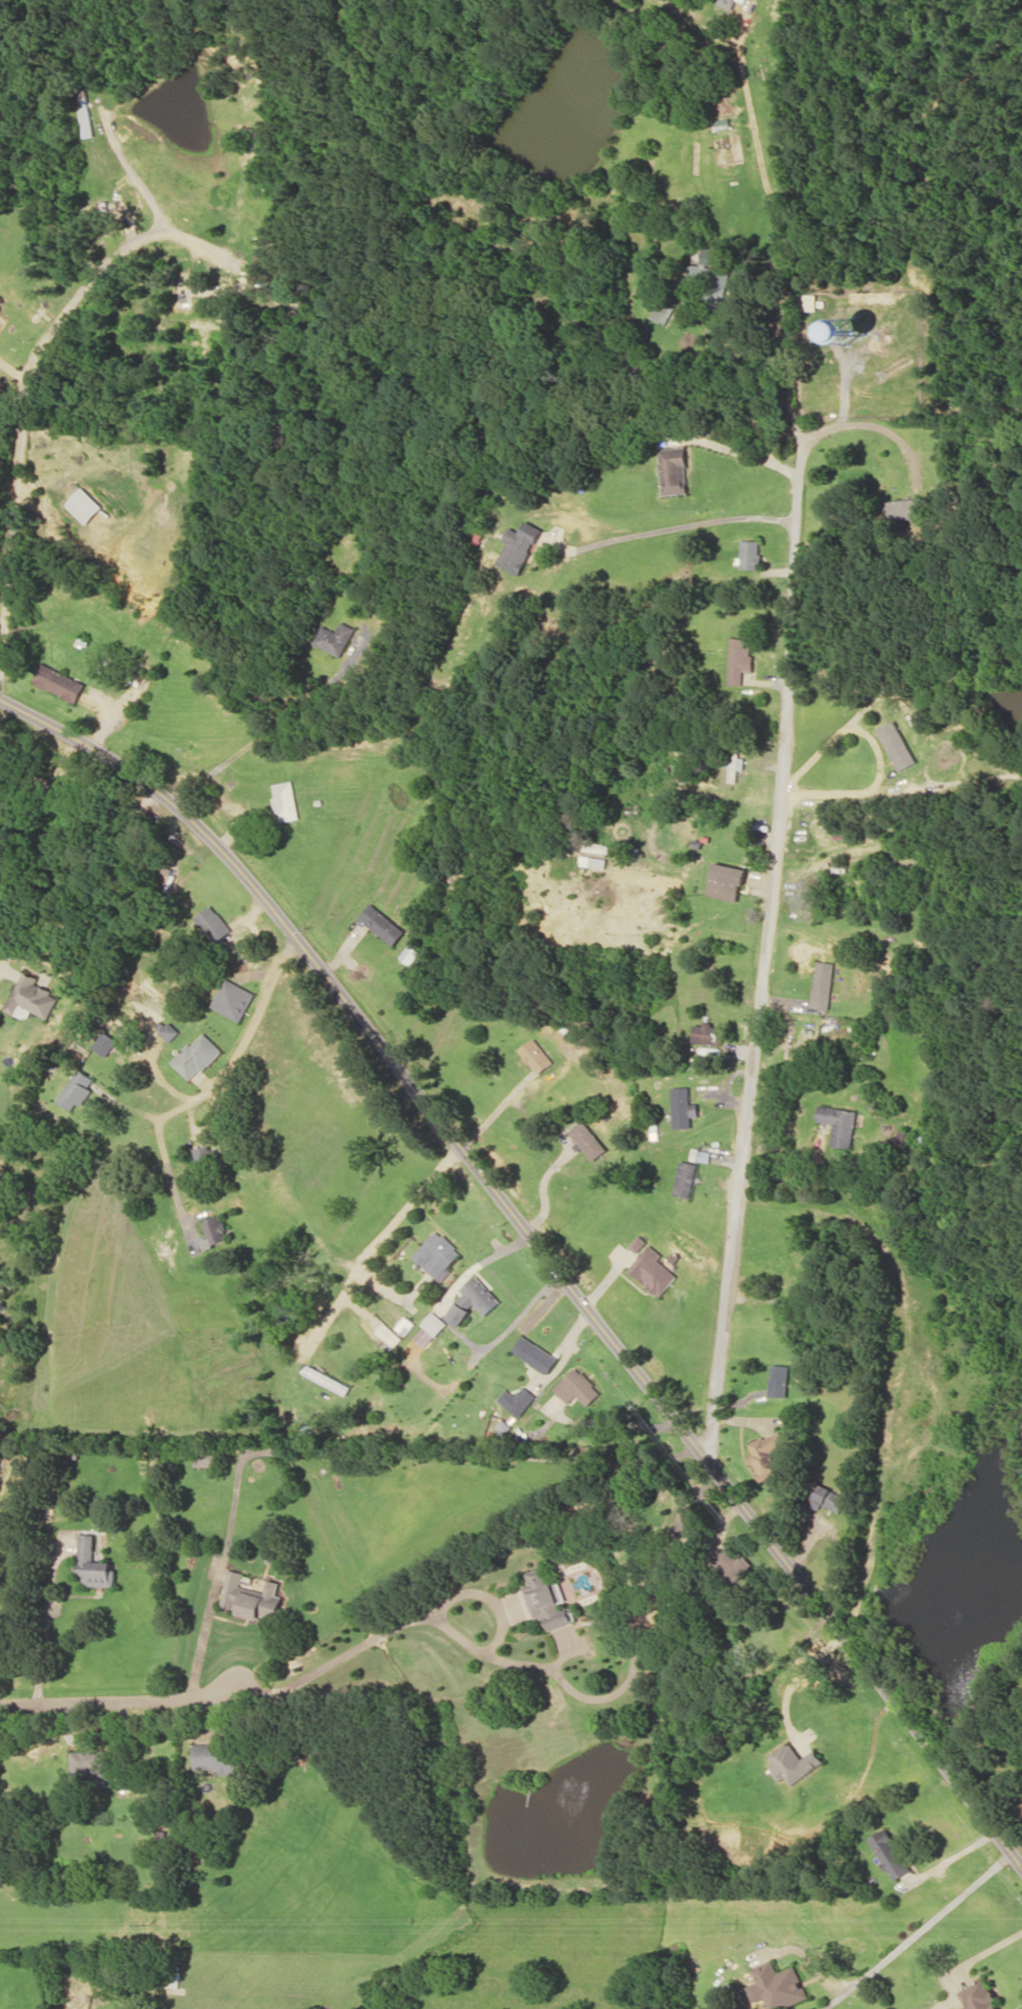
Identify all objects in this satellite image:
building: (743, 0)
building: (727, 3)
building: (87, 115)
building: (712, 279)
building: (1, 299)
building: (808, 301)
road: (25, 405)
building: (674, 470)
building: (83, 505)
building: (908, 507)
building: (519, 546)
building: (749, 553)
building: (333, 638)
building: (738, 657)
building: (59, 682)
building: (898, 745)
building: (733, 761)
building: (285, 800)
building: (726, 881)
road: (770, 903)
building: (212, 922)
building: (382, 923)
building: (410, 953)
building: (822, 984)
building: (31, 996)
building: (233, 999)
building: (169, 1030)
building: (707, 1033)
road: (246, 1041)
building: (106, 1042)
building: (197, 1055)
building: (535, 1055)
building: (77, 1089)
building: (683, 1107)
building: (839, 1123)
building: (587, 1140)
building: (700, 1154)
building: (685, 1178)
building: (216, 1231)
road: (543, 1243)
building: (638, 1243)
building: (437, 1255)
building: (653, 1270)
building: (473, 1299)
building: (434, 1323)
building: (405, 1325)
building: (536, 1353)
building: (327, 1379)
building: (778, 1380)
building: (578, 1386)
building: (519, 1399)
building: (767, 1454)
building: (826, 1496)
building: (95, 1563)
building: (732, 1563)
building: (233, 1587)
building: (548, 1598)
building: (263, 1602)
road: (120, 1699)
building: (220, 1756)
building: (794, 1762)
building: (91, 1766)
building: (889, 1853)
power tower: (154, 1921)
power tower: (735, 1922)
building: (777, 1986)
building: (979, 1996)

